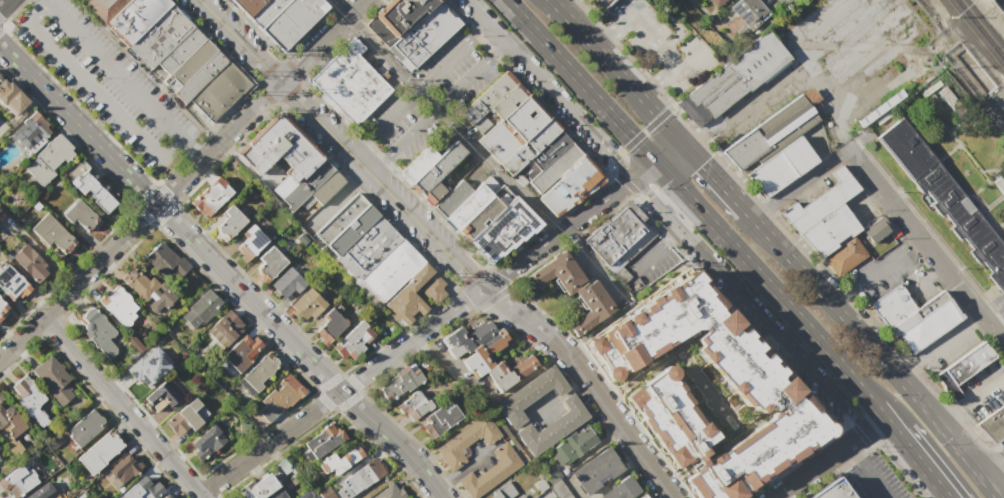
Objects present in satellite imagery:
road: (44, 1)
railway: (1002, 2)
road: (3, 3)
road: (557, 3)
building: (602, 3)
building: (714, 3)
building: (102, 8)
building: (747, 11)
building: (280, 17)
building: (134, 18)
building: (396, 18)
road: (675, 22)
road: (480, 27)
railway: (982, 27)
building: (425, 34)
building: (158, 36)
railway: (974, 36)
road: (655, 37)
road: (240, 40)
road: (321, 40)
building: (179, 49)
road: (499, 49)
road: (690, 53)
building: (190, 62)
road: (114, 71)
road: (615, 71)
building: (157, 72)
building: (199, 77)
building: (732, 79)
railway: (1003, 81)
building: (349, 82)
parking lot: (109, 86)
road: (420, 86)
road: (770, 87)
building: (218, 92)
road: (95, 94)
building: (9, 98)
parking lot: (429, 98)
building: (484, 99)
building: (506, 102)
road: (438, 105)
road: (994, 114)
road: (444, 116)
building: (524, 119)
building: (485, 121)
building: (30, 132)
building: (541, 135)
building: (499, 141)
traffic signals: (636, 141)
road: (360, 146)
building: (775, 147)
road: (193, 149)
building: (277, 151)
road: (616, 153)
building: (543, 156)
building: (517, 158)
building: (49, 160)
traffic signals: (701, 163)
road: (378, 164)
building: (416, 164)
building: (437, 168)
building: (554, 168)
road: (717, 181)
road: (380, 183)
road: (799, 184)
building: (999, 184)
building: (304, 185)
building: (282, 187)
building: (325, 187)
building: (568, 188)
building: (93, 193)
building: (434, 193)
building: (209, 197)
building: (945, 198)
building: (451, 199)
road: (691, 201)
building: (471, 203)
building: (483, 213)
road: (668, 214)
road: (581, 215)
building: (1, 216)
building: (823, 216)
building: (1, 218)
building: (80, 218)
road: (139, 220)
building: (228, 223)
building: (346, 224)
building: (504, 231)
road: (914, 231)
building: (51, 234)
building: (877, 234)
building: (619, 236)
building: (247, 244)
road: (654, 244)
building: (366, 250)
building: (844, 257)
road: (594, 259)
building: (166, 262)
building: (29, 265)
building: (267, 265)
building: (391, 270)
road: (221, 271)
building: (556, 275)
road: (925, 277)
road: (861, 280)
building: (286, 284)
building: (11, 285)
road: (508, 287)
building: (150, 291)
building: (404, 296)
building: (118, 306)
building: (307, 306)
building: (2, 308)
building: (200, 309)
building: (590, 309)
building: (914, 317)
building: (328, 327)
road: (992, 327)
building: (224, 329)
building: (99, 332)
building: (465, 339)
road: (410, 340)
building: (353, 342)
road: (938, 343)
road: (869, 344)
building: (242, 351)
building: (484, 354)
building: (962, 369)
building: (259, 373)
building: (509, 374)
building: (140, 375)
building: (756, 379)
road: (587, 380)
building: (400, 383)
building: (58, 386)
building: (27, 394)
road: (969, 394)
building: (530, 397)
building: (278, 398)
building: (162, 399)
road: (122, 407)
building: (414, 407)
road: (878, 412)
building: (186, 418)
building: (439, 420)
building: (9, 423)
building: (993, 424)
building: (552, 428)
building: (85, 429)
building: (323, 440)
building: (55, 441)
building: (465, 441)
road: (269, 442)
building: (207, 443)
building: (572, 446)
building: (100, 453)
road: (850, 453)
road: (915, 457)
road: (828, 458)
building: (339, 459)
road: (1002, 462)
building: (280, 464)
road: (992, 467)
building: (125, 470)
building: (490, 473)
building: (596, 473)
building: (551, 474)
building: (364, 475)
road: (868, 479)
building: (17, 482)
building: (291, 482)
building: (257, 487)
road: (989, 487)
building: (143, 489)
building: (559, 490)
building: (620, 490)
building: (42, 492)
building: (387, 492)
building: (830, 492)
building: (326, 493)
building: (277, 495)
building: (304, 495)
building: (494, 495)
building: (162, 496)
road: (941, 496)
building: (166, 497)
building: (313, 497)
building: (642, 497)

